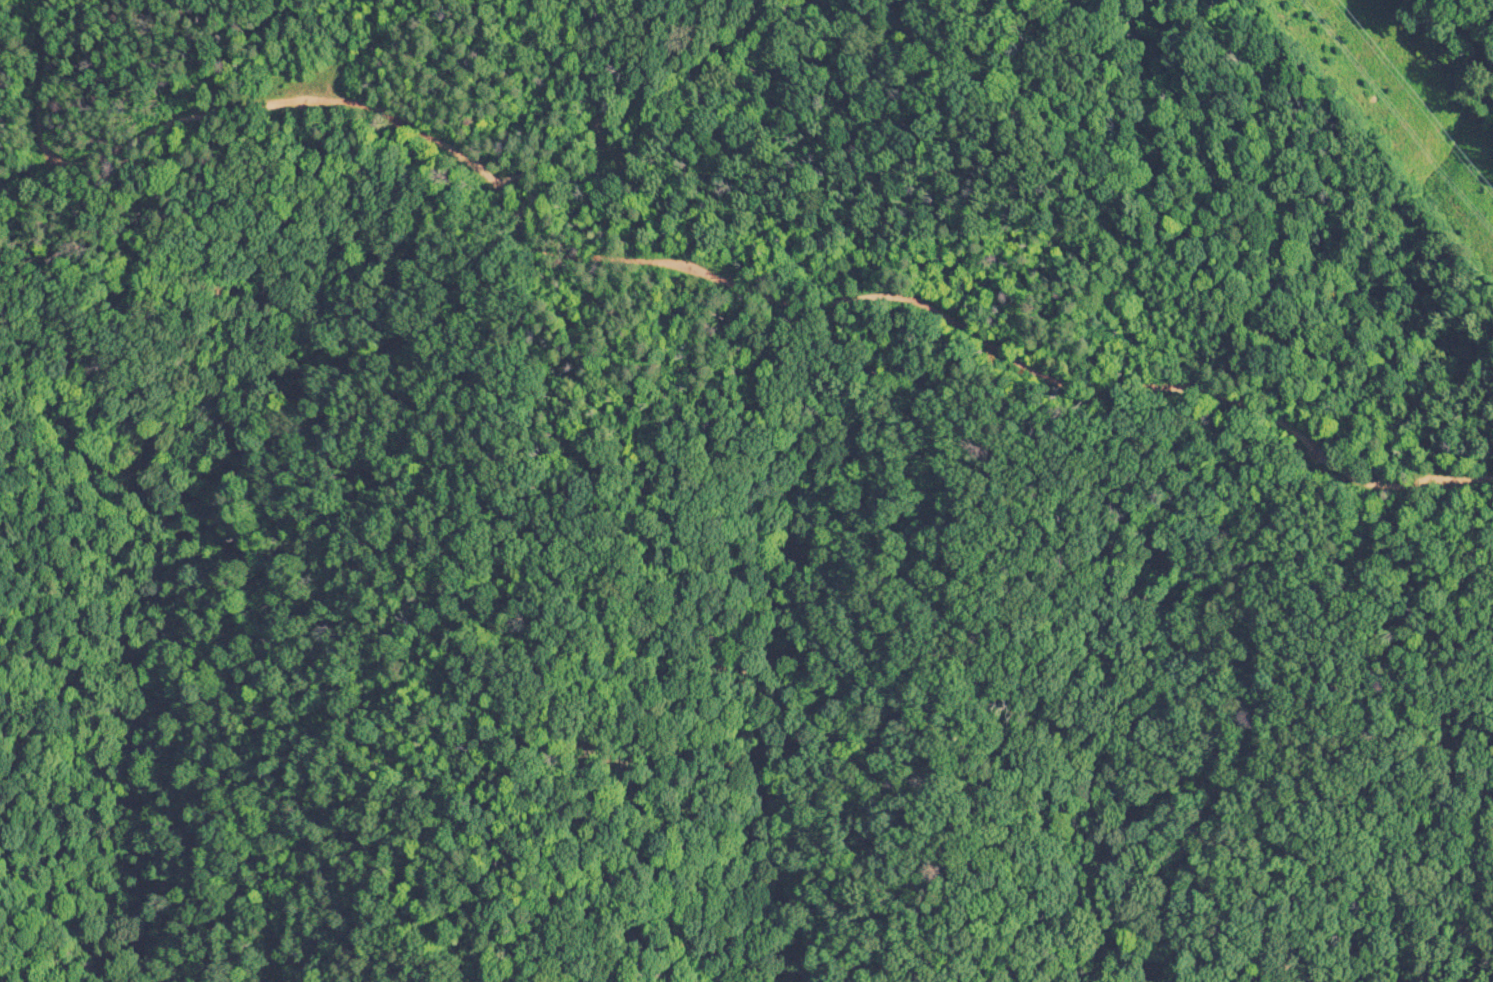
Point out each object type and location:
road: (1069, 975)

